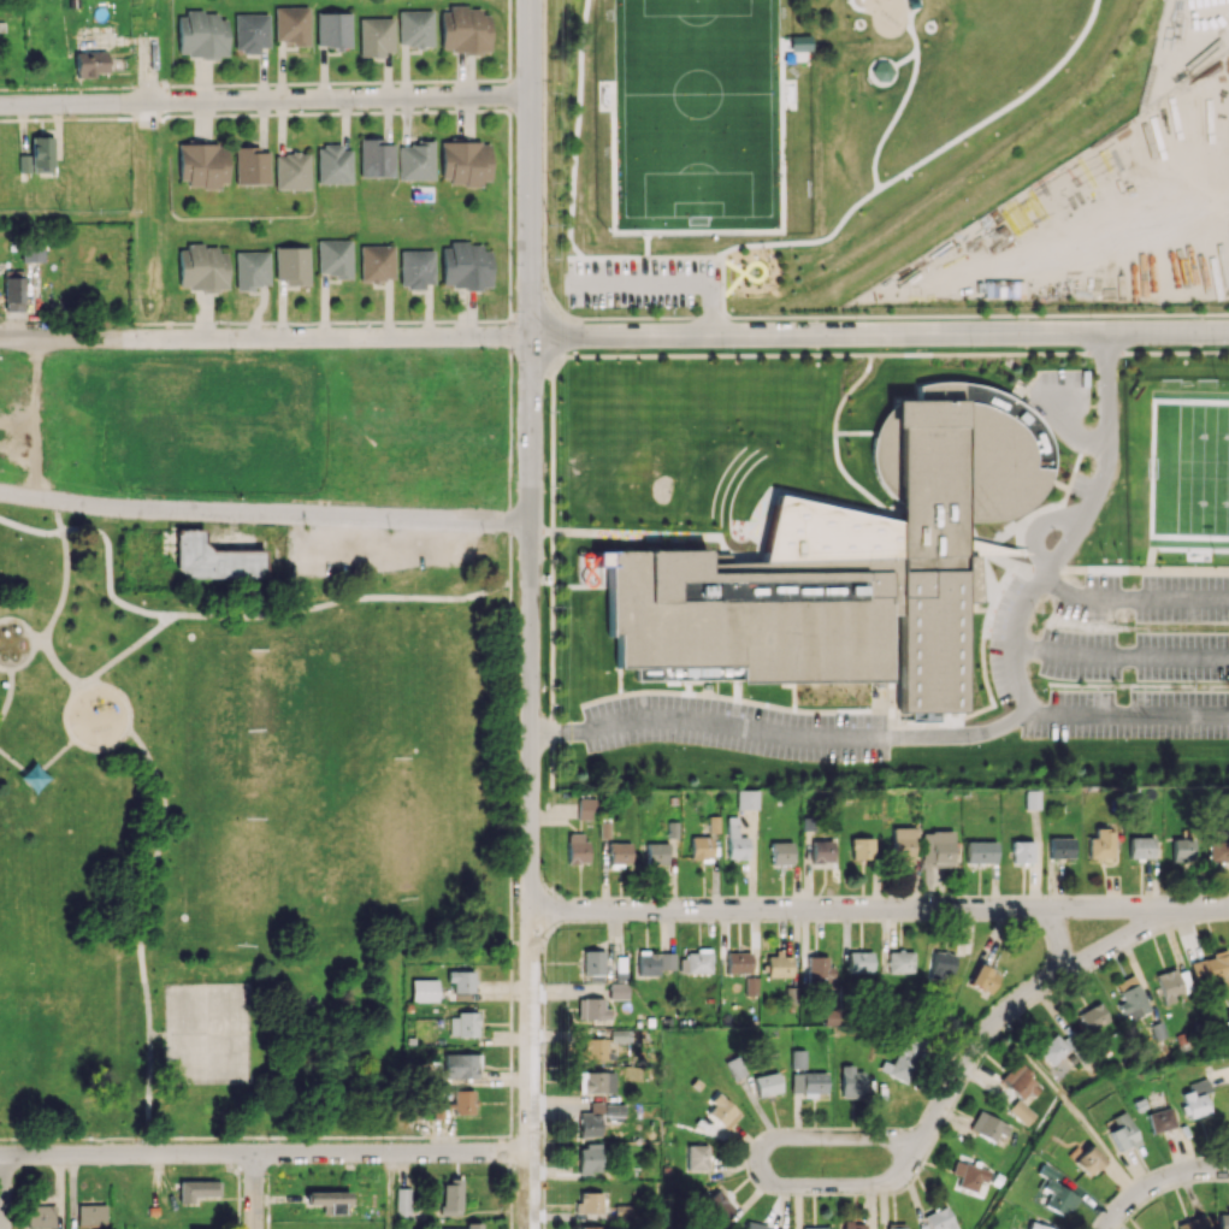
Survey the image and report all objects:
building: (291, 24)
building: (333, 28)
building: (414, 28)
building: (463, 29)
building: (250, 31)
building: (201, 34)
building: (376, 36)
building: (89, 63)
park: (941, 69)
road: (146, 83)
road: (265, 100)
park: (802, 141)
building: (37, 155)
building: (376, 158)
building: (415, 160)
building: (465, 163)
building: (202, 164)
building: (333, 164)
building: (250, 165)
road: (531, 169)
building: (291, 171)
road: (67, 218)
building: (33, 250)
building: (333, 258)
building: (376, 262)
building: (293, 265)
building: (466, 265)
building: (202, 267)
building: (415, 268)
building: (252, 270)
road: (668, 279)
parking lot: (642, 282)
building: (13, 294)
road: (880, 335)
road: (265, 338)
park: (67, 418)
road: (1066, 426)
road: (1103, 465)
park: (1190, 468)
road: (264, 512)
road: (30, 527)
road: (624, 532)
road: (508, 549)
building: (213, 559)
building: (885, 569)
road: (107, 571)
road: (58, 599)
road: (285, 609)
road: (36, 637)
road: (31, 642)
road: (1014, 649)
road: (1121, 654)
road: (6, 689)
road: (71, 692)
park: (305, 719)
road: (780, 731)
road: (37, 767)
road: (530, 784)
building: (746, 798)
building: (1032, 798)
building: (585, 808)
building: (713, 823)
park: (231, 837)
building: (734, 840)
building: (1101, 844)
building: (902, 845)
building: (936, 846)
building: (577, 847)
building: (701, 847)
building: (861, 847)
building: (1060, 847)
building: (1141, 847)
building: (1182, 850)
building: (1218, 850)
building: (821, 851)
building: (980, 851)
building: (1022, 851)
building: (619, 852)
building: (656, 852)
building: (781, 852)
road: (508, 863)
road: (879, 908)
road: (137, 924)
road: (1058, 935)
road: (519, 940)
building: (900, 961)
building: (592, 962)
building: (654, 962)
building: (695, 962)
building: (738, 962)
building: (859, 962)
building: (778, 964)
building: (943, 964)
building: (1211, 969)
building: (821, 971)
building: (983, 977)
building: (461, 980)
building: (751, 985)
building: (1168, 985)
building: (424, 989)
building: (618, 991)
building: (1133, 1000)
building: (592, 1008)
building: (1228, 1011)
building: (831, 1016)
building: (1093, 1016)
building: (463, 1024)
park: (225, 1030)
park: (183, 1032)
road: (155, 1033)
building: (593, 1048)
building: (1053, 1048)
building: (905, 1057)
building: (798, 1058)
building: (461, 1065)
building: (734, 1066)
building: (597, 1081)
building: (851, 1081)
building: (1018, 1081)
building: (808, 1082)
building: (767, 1083)
building: (1195, 1099)
building: (462, 1101)
building: (439, 1107)
building: (722, 1111)
building: (1022, 1111)
building: (597, 1117)
building: (1159, 1119)
building: (989, 1128)
building: (1122, 1131)
road: (254, 1135)
road: (225, 1145)
road: (917, 1150)
road: (265, 1152)
building: (697, 1157)
building: (590, 1158)
building: (1088, 1158)
building: (969, 1175)
road: (1158, 1181)
building: (196, 1190)
road: (254, 1190)
road: (389, 1190)
road: (2, 1192)
building: (1054, 1192)
building: (451, 1196)
building: (329, 1200)
building: (402, 1201)
building: (592, 1201)
building: (716, 1206)
building: (91, 1215)
building: (41, 1216)
building: (1193, 1223)
building: (468, 1225)
building: (852, 1225)
building: (758, 1227)
building: (1039, 1227)
building: (597, 1228)
building: (815, 1228)
building: (896, 1228)

